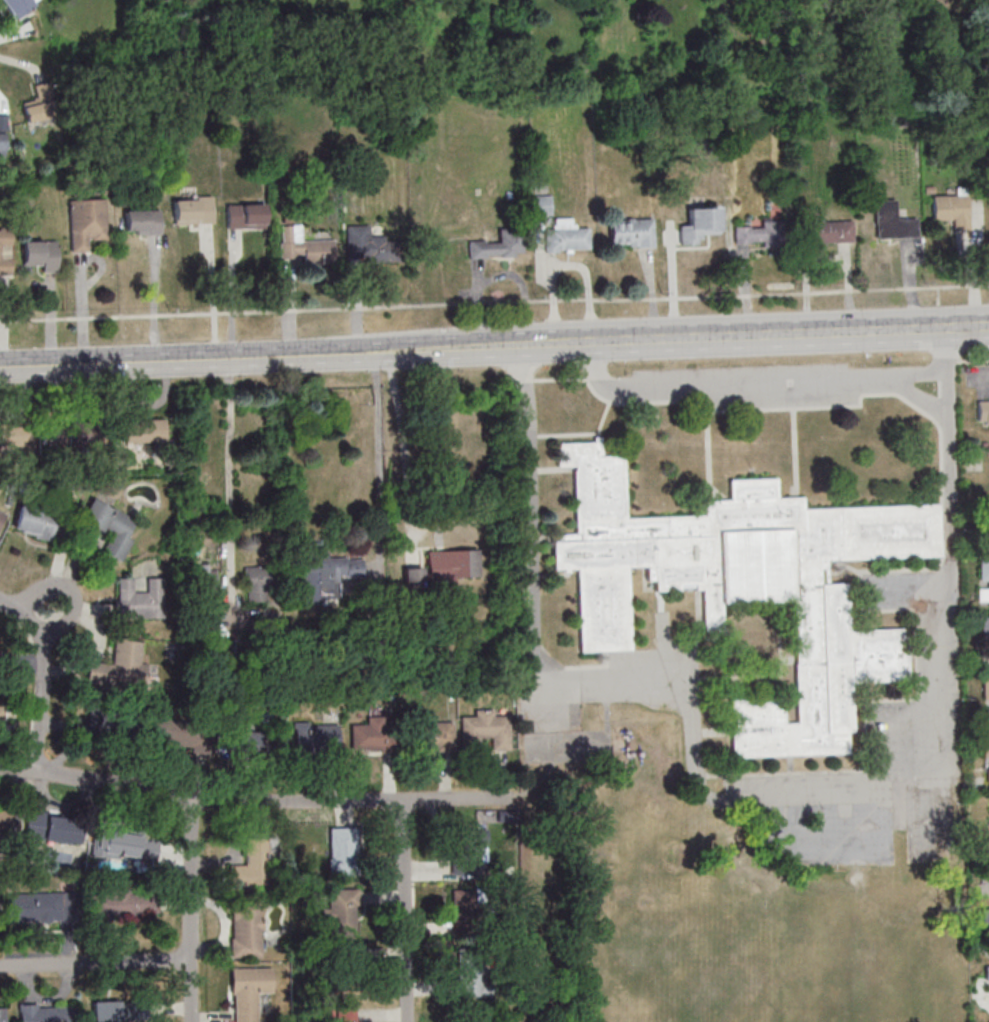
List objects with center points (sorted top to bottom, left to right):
building: (18, 6)
building: (41, 108)
building: (2, 136)
building: (542, 205)
building: (951, 209)
building: (192, 211)
building: (244, 217)
building: (142, 222)
building: (890, 222)
building: (85, 223)
building: (698, 225)
building: (824, 232)
building: (630, 233)
building: (755, 233)
building: (565, 239)
building: (499, 245)
building: (368, 246)
building: (313, 252)
building: (5, 253)
building: (41, 255)
road: (211, 290)
road: (154, 298)
road: (966, 326)
road: (769, 335)
road: (580, 343)
road: (542, 345)
road: (944, 346)
road: (453, 348)
road: (381, 351)
road: (187, 359)
road: (921, 373)
road: (728, 387)
road: (946, 389)
road: (922, 397)
building: (983, 409)
building: (143, 431)
building: (13, 435)
road: (402, 435)
building: (74, 437)
road: (379, 442)
road: (231, 487)
building: (1, 516)
building: (988, 520)
building: (35, 522)
building: (110, 526)
building: (453, 565)
building: (326, 575)
building: (414, 577)
building: (983, 582)
building: (258, 584)
building: (745, 586)
building: (204, 587)
road: (69, 593)
building: (139, 598)
building: (984, 631)
building: (122, 666)
road: (43, 675)
building: (985, 690)
building: (0, 715)
building: (102, 724)
building: (483, 731)
building: (175, 733)
building: (372, 734)
building: (437, 735)
building: (314, 738)
building: (249, 739)
building: (984, 748)
road: (709, 797)
road: (254, 799)
building: (4, 822)
building: (53, 828)
building: (118, 844)
building: (465, 851)
building: (342, 852)
building: (984, 863)
building: (251, 866)
building: (118, 906)
building: (40, 907)
road: (191, 907)
road: (404, 909)
building: (465, 909)
building: (340, 911)
building: (984, 919)
building: (244, 927)
road: (95, 964)
building: (341, 972)
building: (985, 974)
building: (469, 975)
building: (247, 991)
building: (120, 1011)
building: (43, 1013)
building: (1, 1015)
building: (344, 1015)
building: (469, 1016)

